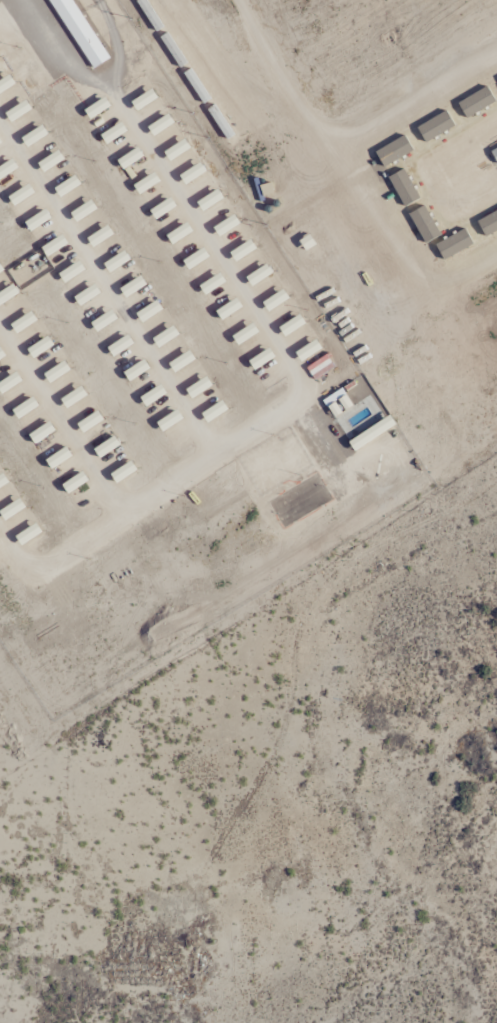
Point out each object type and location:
building: (78, 32)
building: (475, 102)
building: (434, 126)
building: (392, 151)
building: (493, 154)
building: (402, 188)
building: (487, 223)
building: (422, 224)
building: (452, 244)

